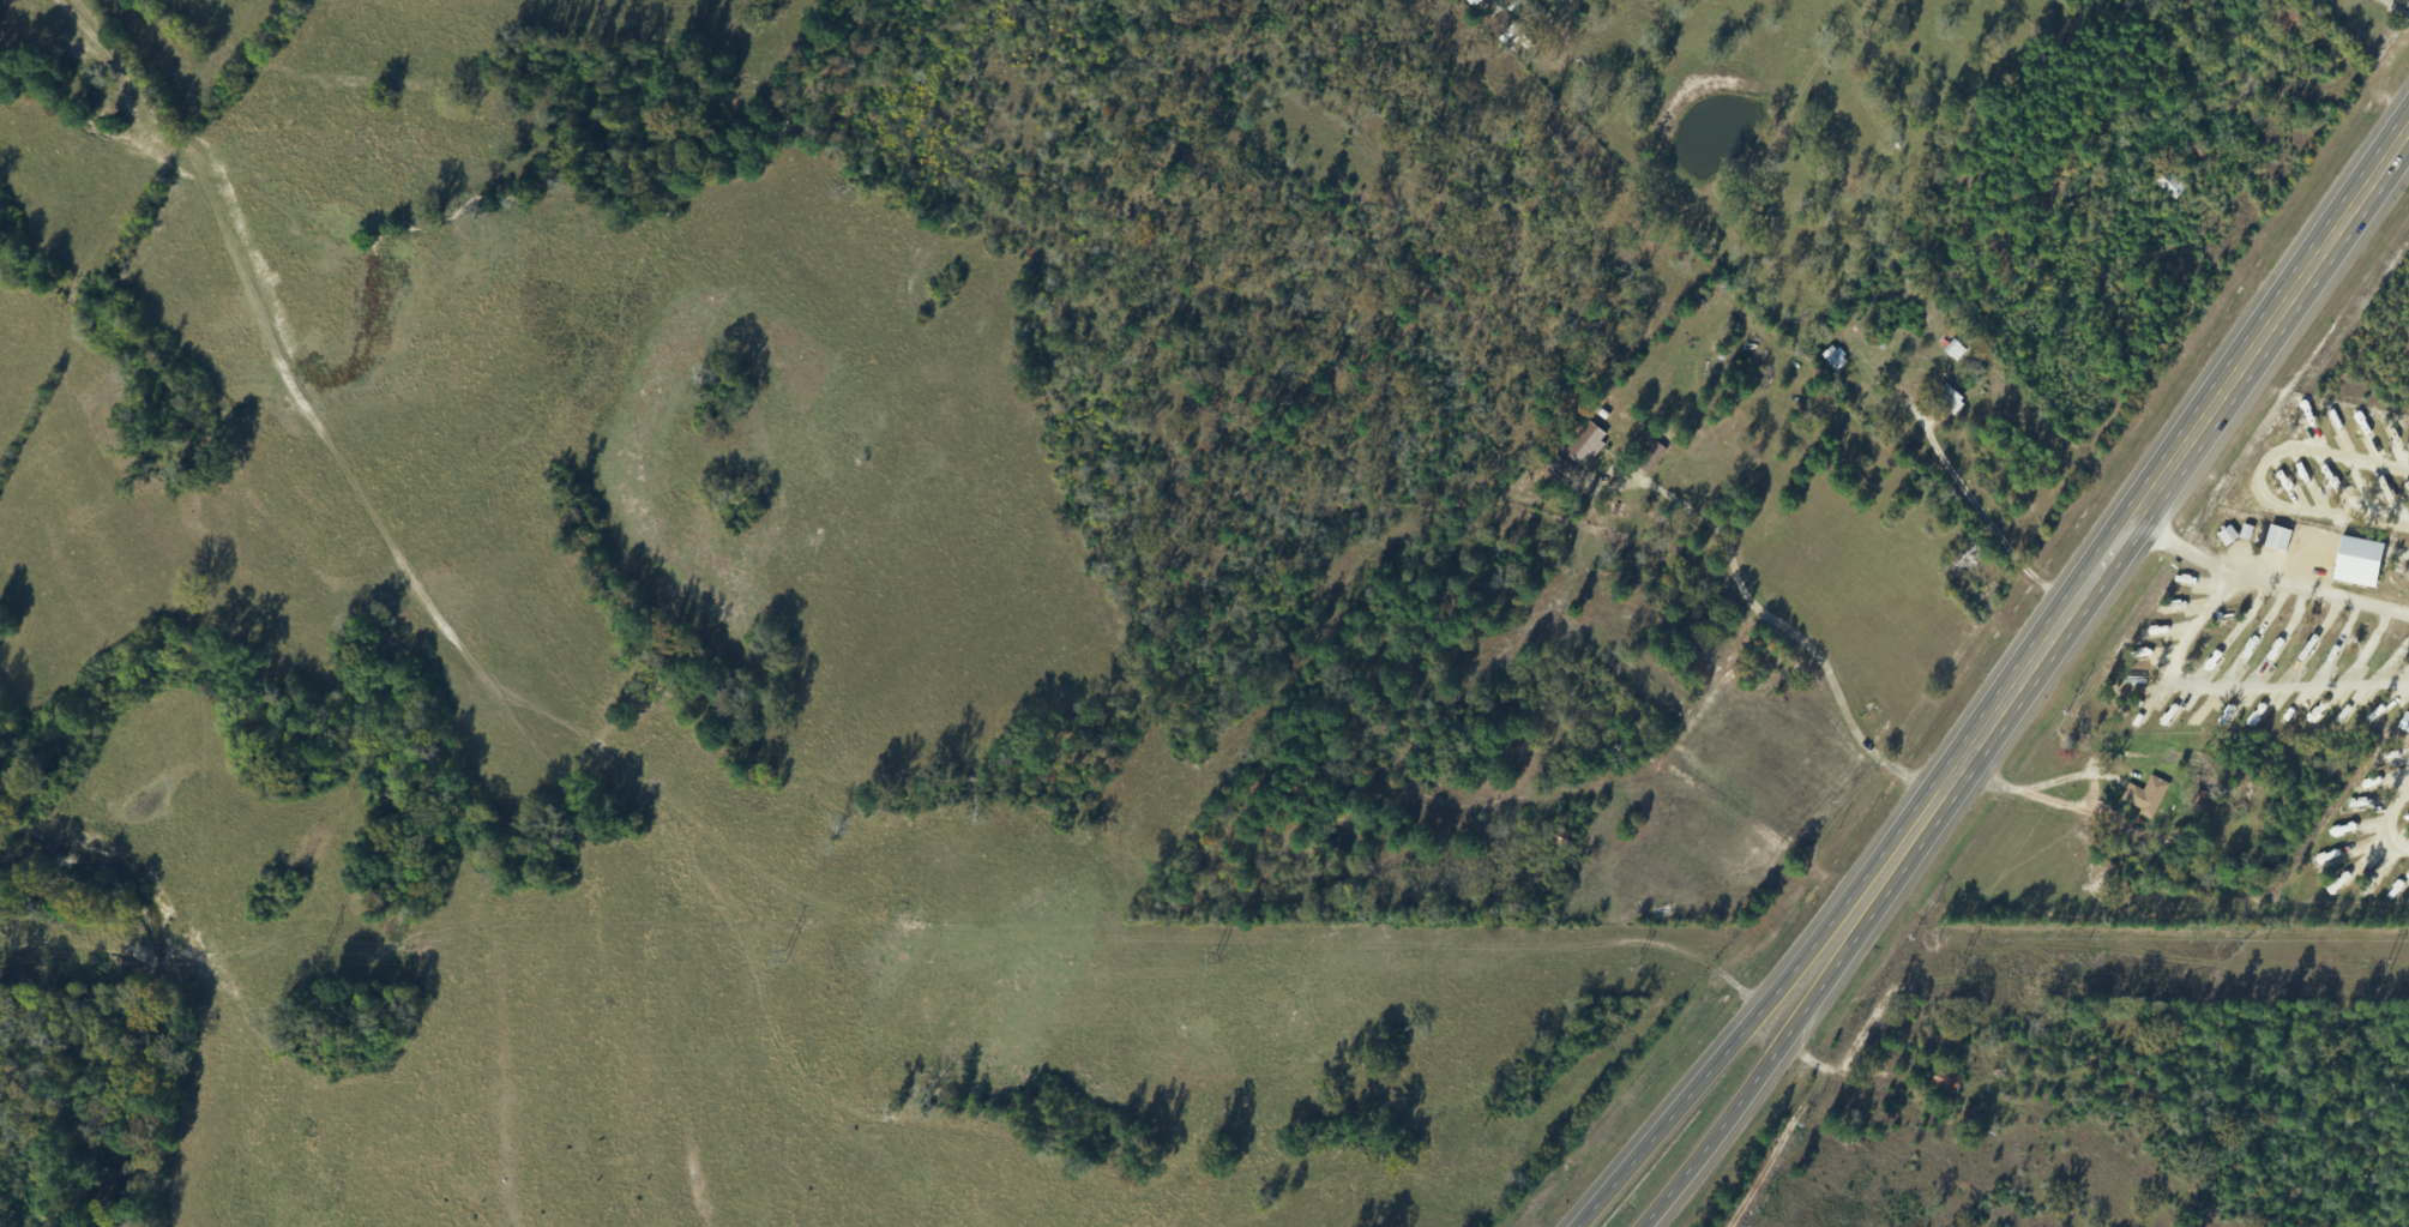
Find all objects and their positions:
building: (1501, 26)
road: (2194, 243)
building: (1879, 357)
building: (1583, 446)
road: (2173, 461)
road: (2264, 582)
road: (2228, 687)
building: (1638, 727)
building: (2144, 798)
road: (2390, 813)
road: (716, 838)
road: (1848, 904)
road: (1863, 916)
power tower: (323, 951)
power tower: (782, 952)
power tower: (1212, 955)
power tower: (1957, 957)
power tower: (1634, 958)
power tower: (2384, 963)
building: (1944, 1082)
road: (1667, 1119)
road: (1717, 1132)

